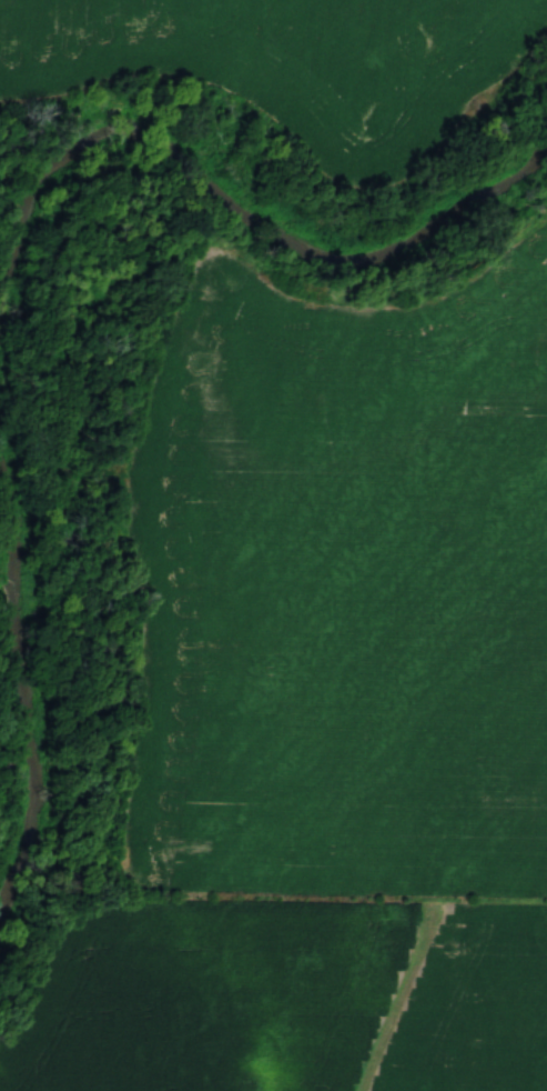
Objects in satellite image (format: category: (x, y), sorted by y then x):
crop: (284, 53)
river: (242, 204)
river: (10, 688)

